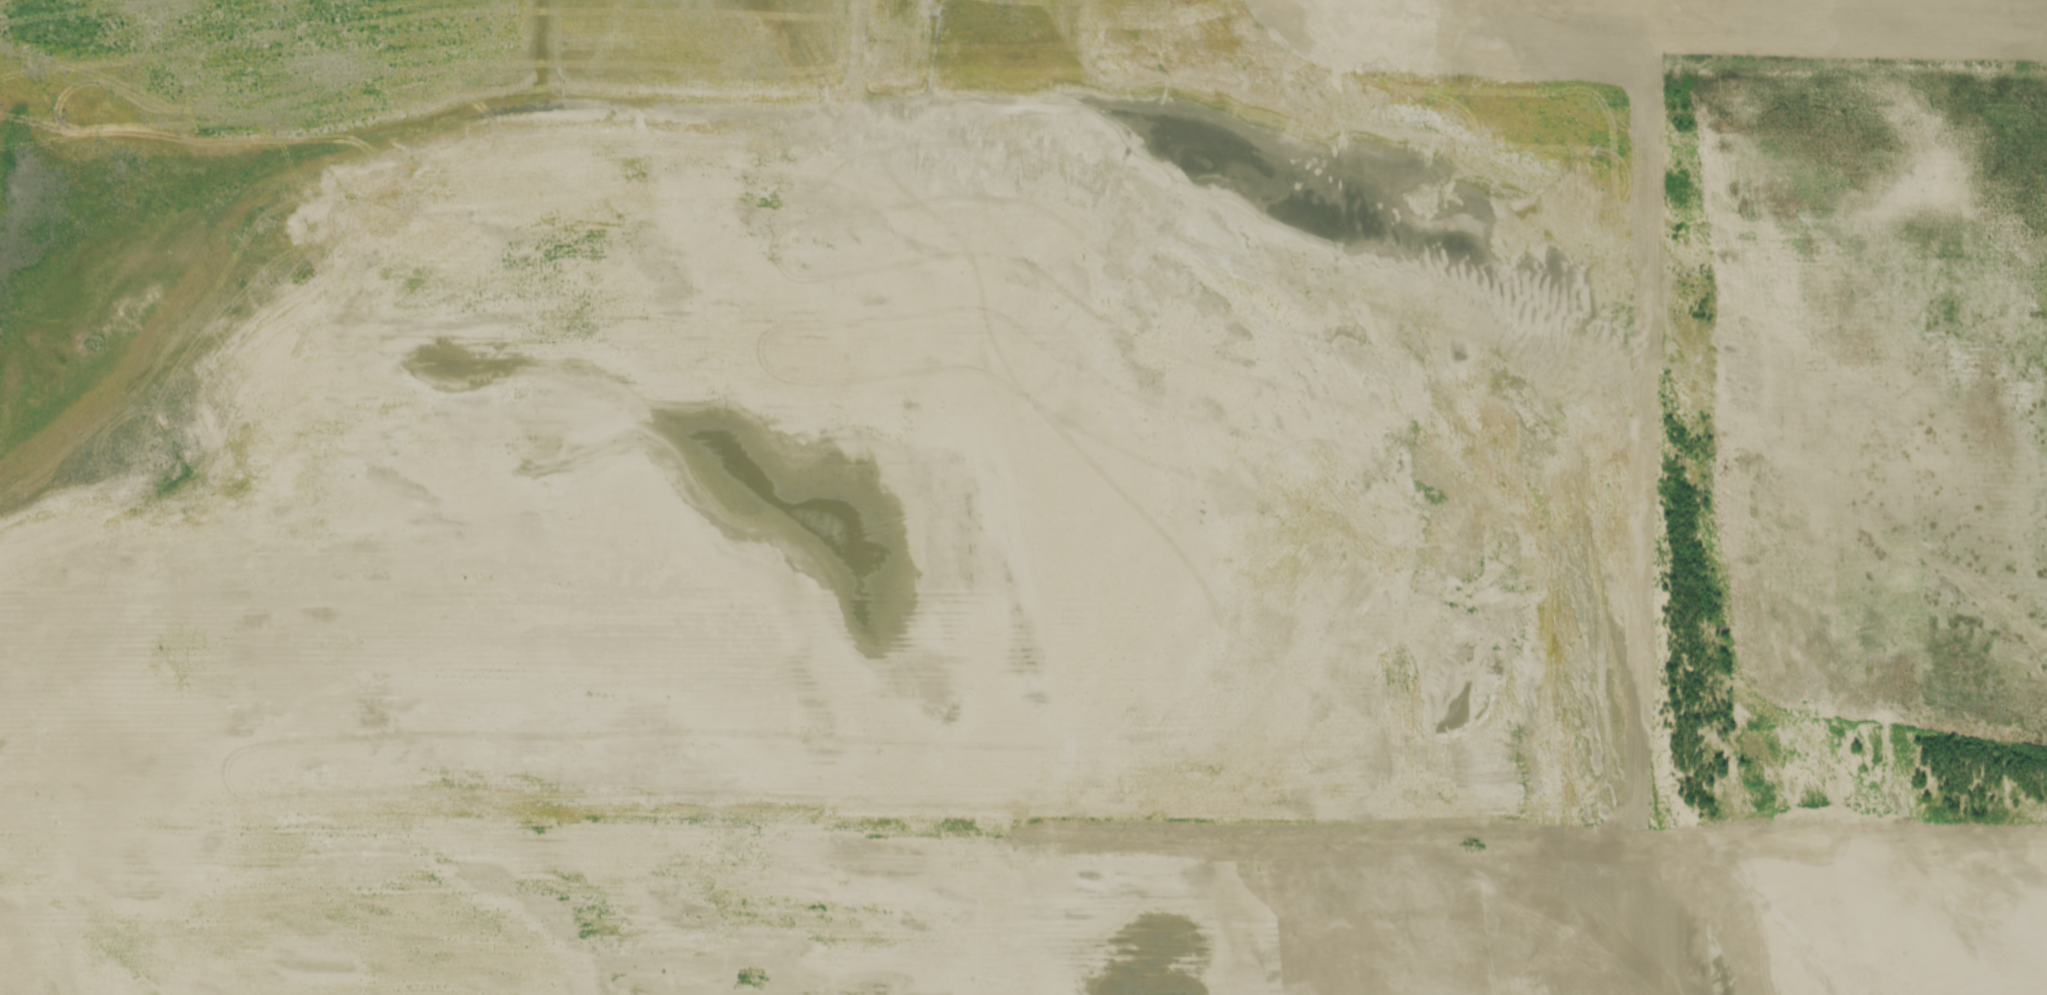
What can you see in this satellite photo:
road: (1024, 793)

